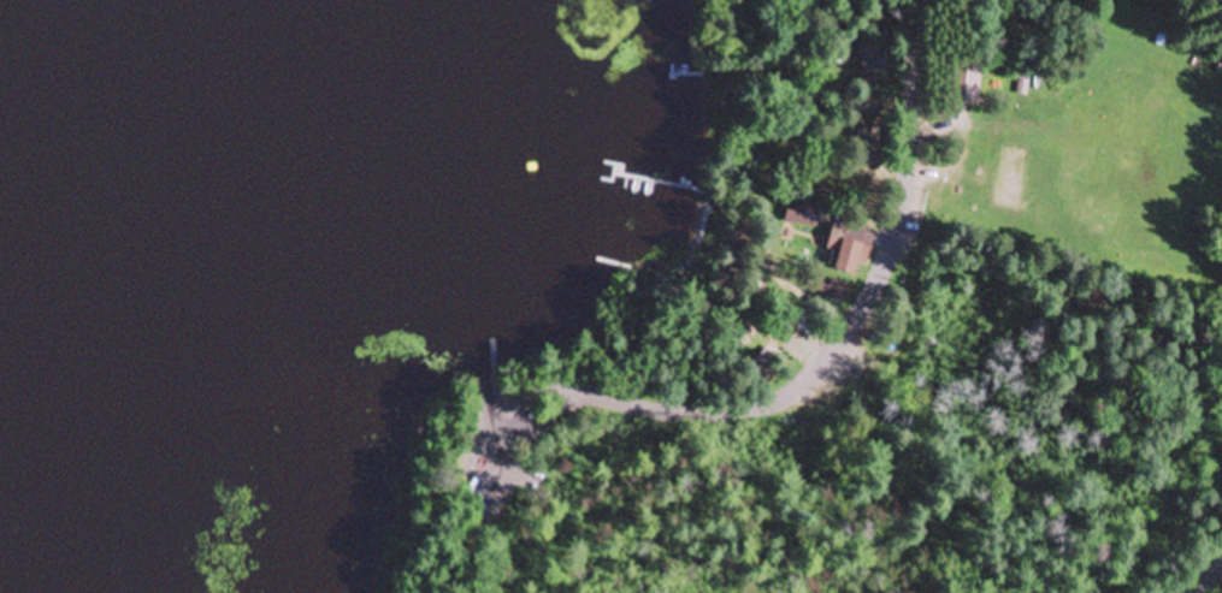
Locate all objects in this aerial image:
building: (869, 57)
building: (966, 83)
building: (802, 215)
building: (849, 250)
building: (837, 293)
building: (796, 338)
road: (808, 384)
road: (489, 398)
road: (1209, 582)

